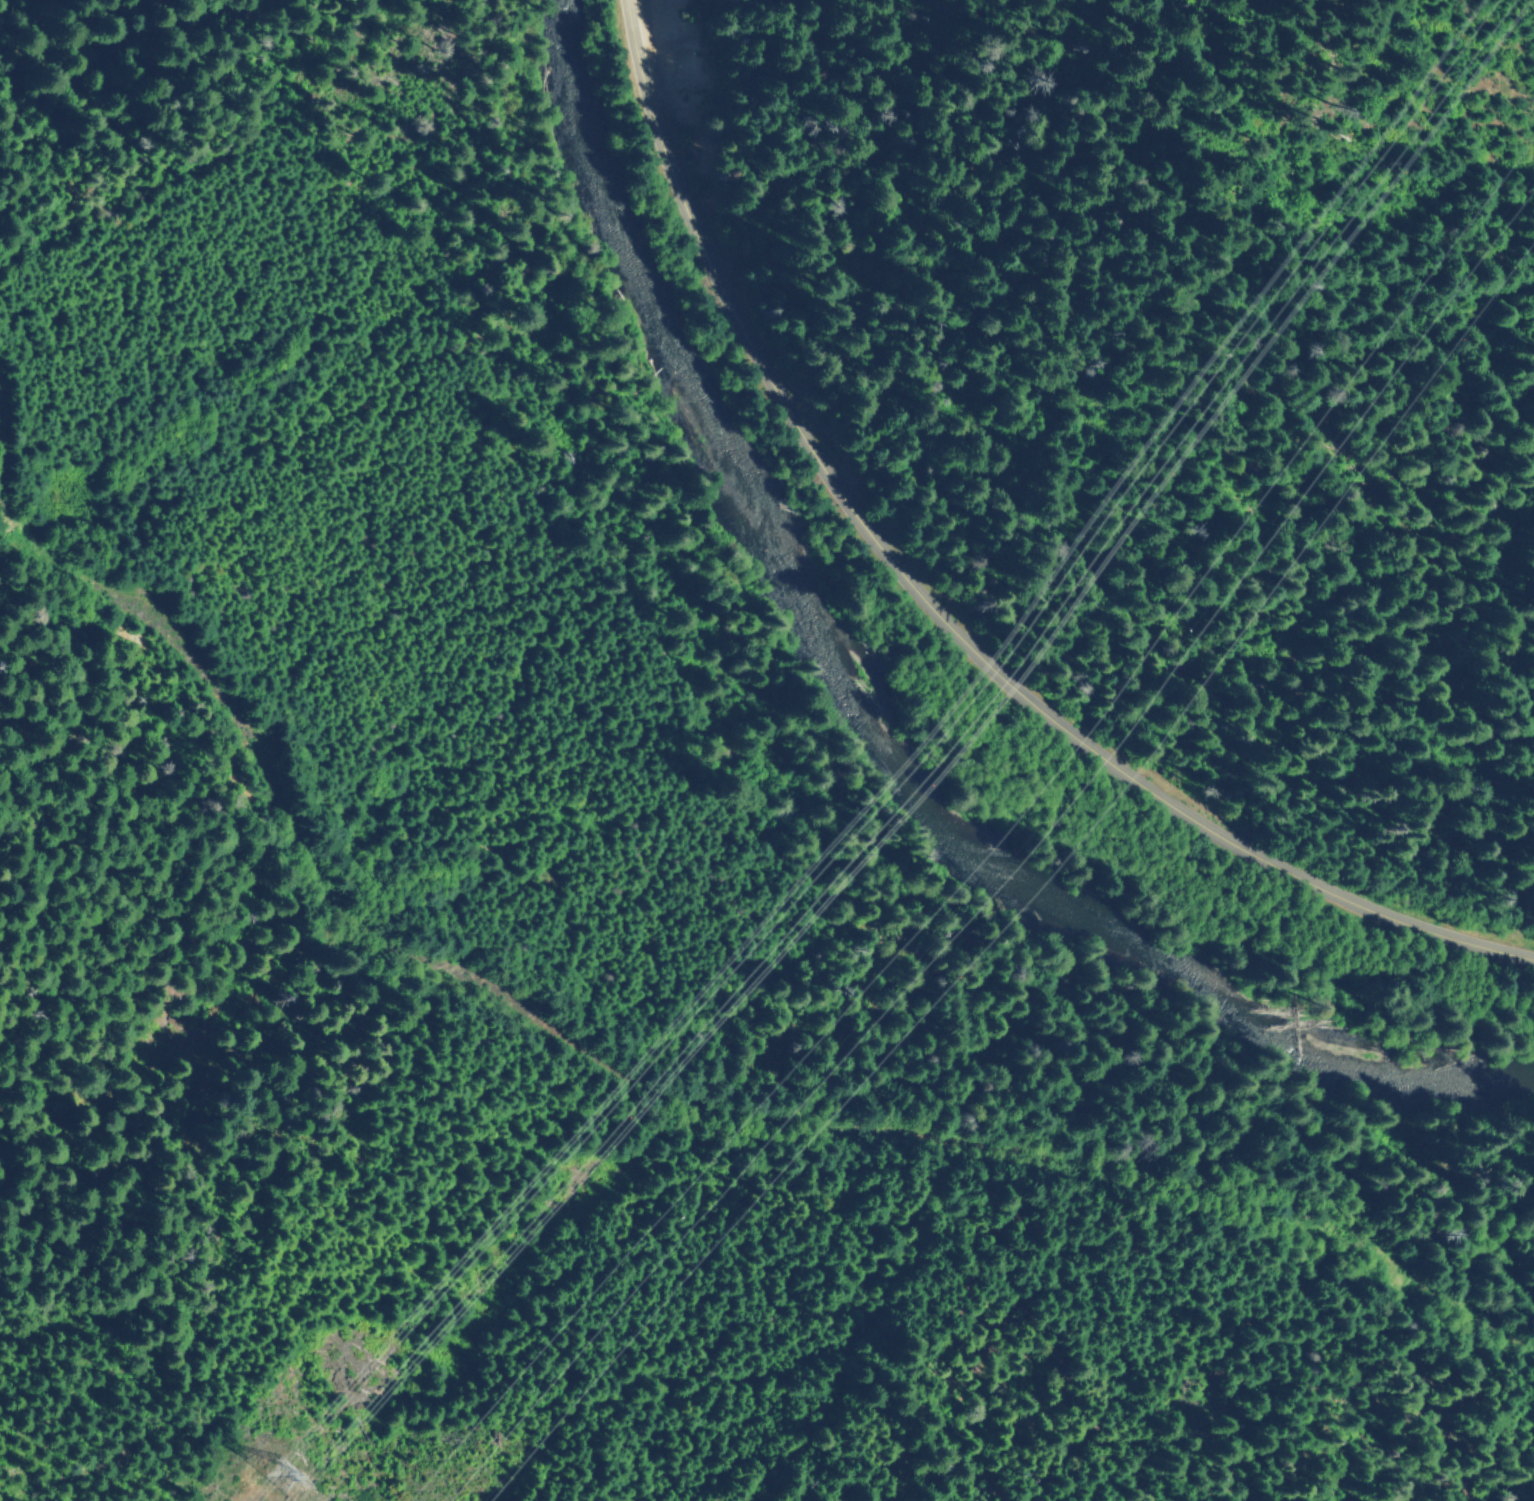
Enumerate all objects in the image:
road: (939, 612)
river: (874, 704)
road: (665, 1095)
power tower: (273, 1489)

